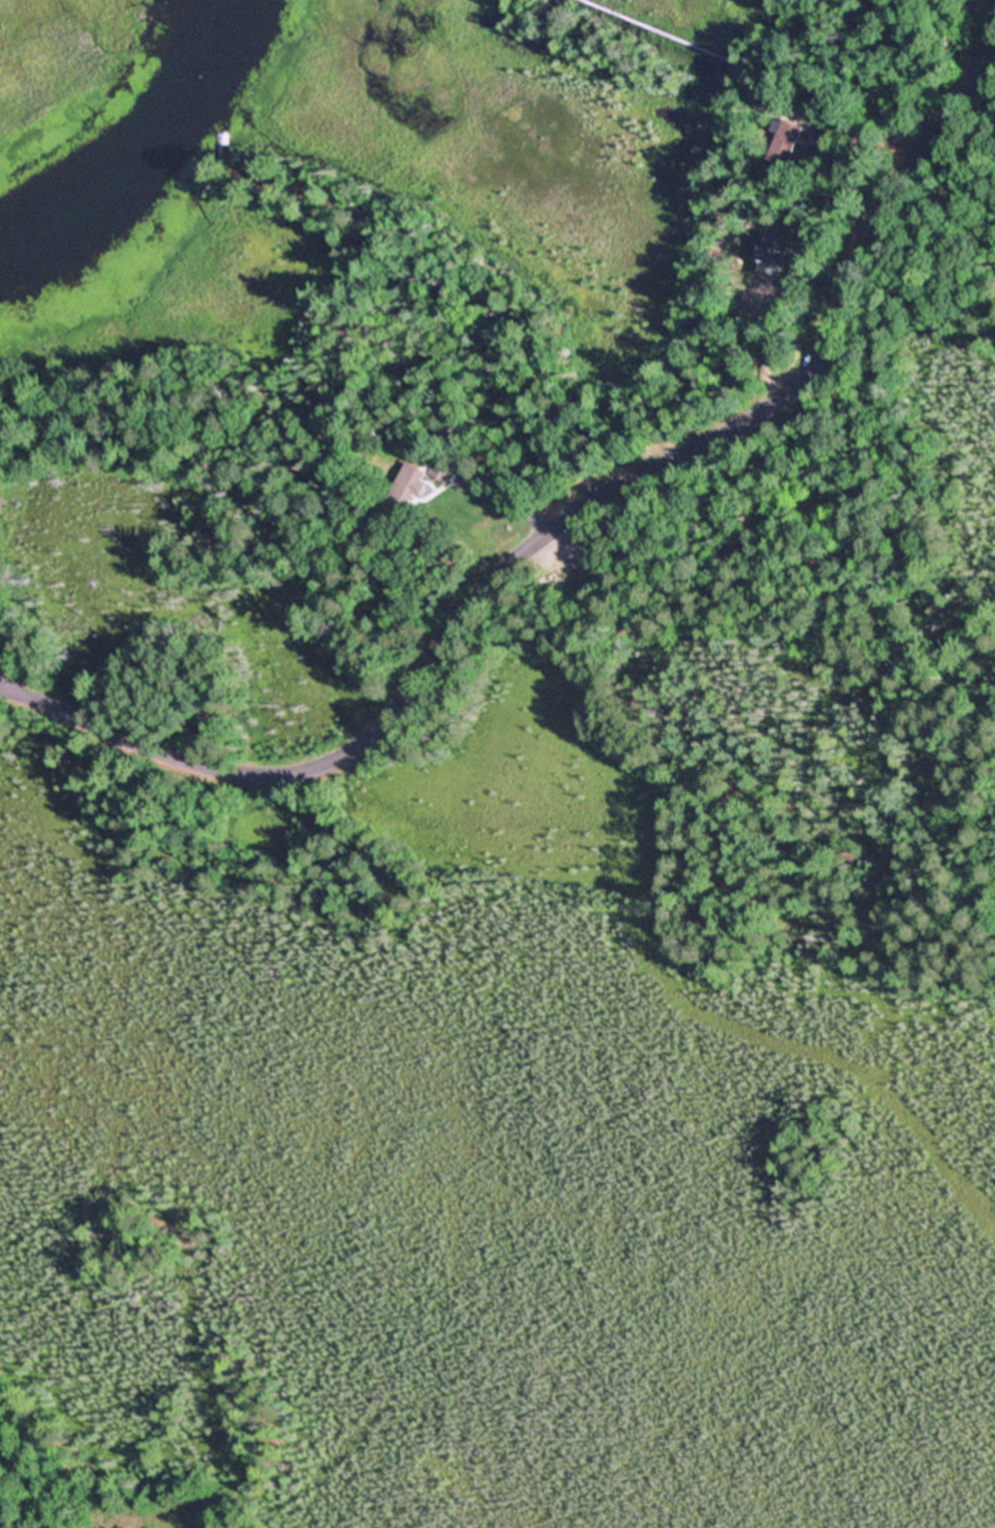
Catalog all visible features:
building: (815, 98)
building: (787, 141)
river: (166, 168)
building: (5, 438)
building: (447, 467)
building: (412, 485)
road: (547, 530)

